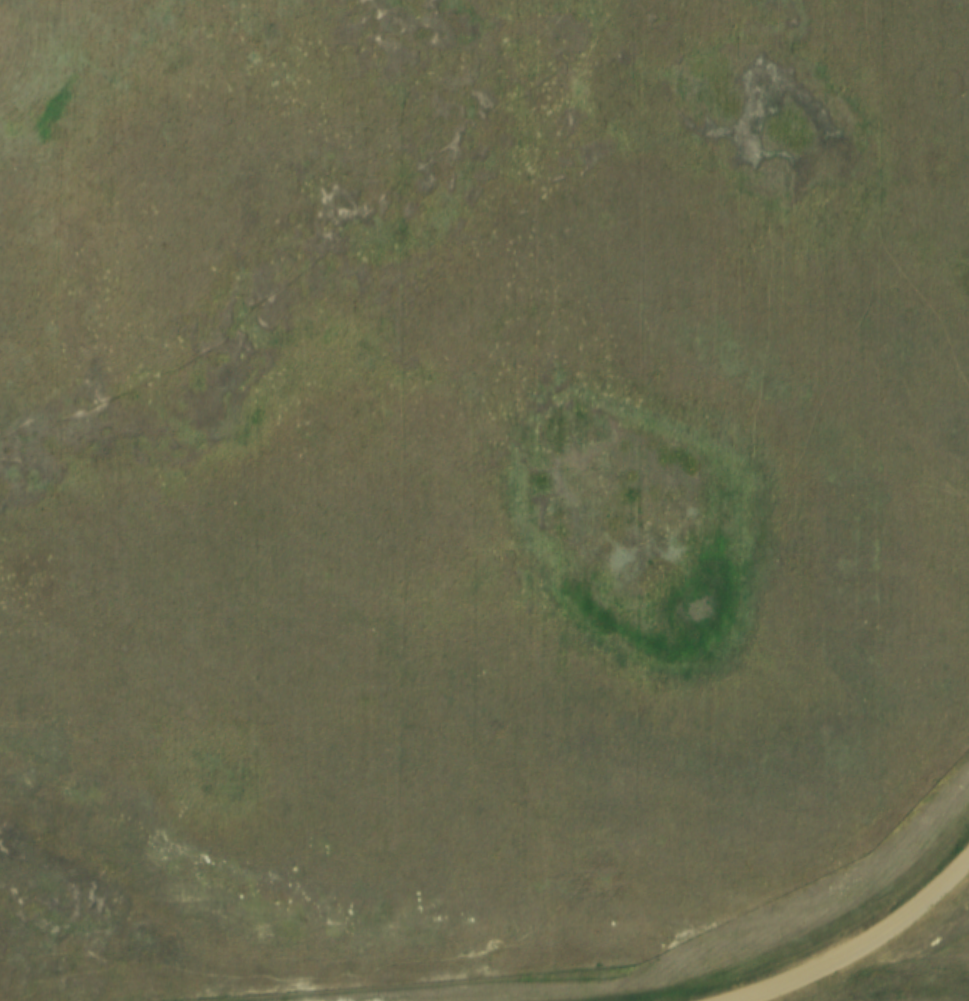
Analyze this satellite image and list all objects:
road: (866, 946)

